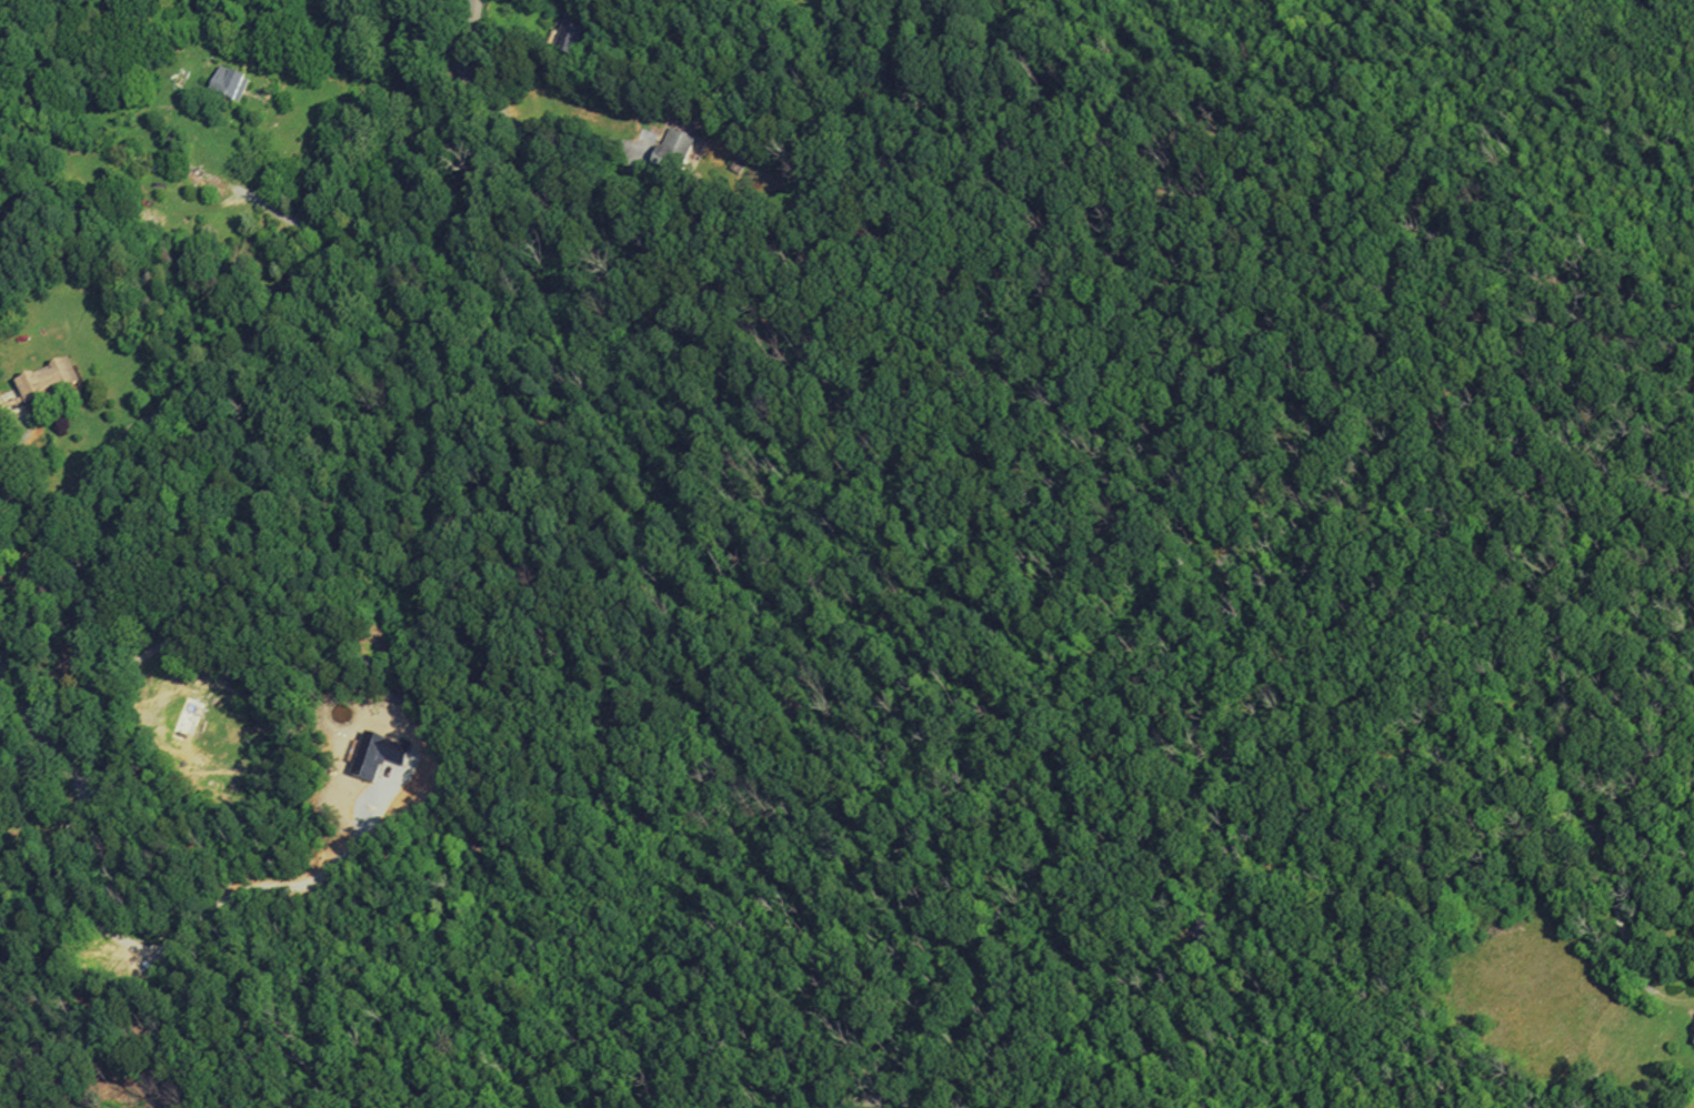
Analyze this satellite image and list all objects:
building: (570, 34)
road: (518, 49)
building: (224, 87)
road: (529, 132)
building: (673, 150)
building: (738, 165)
road: (293, 219)
road: (248, 347)
building: (49, 382)
building: (3, 417)
road: (7, 487)
road: (14, 572)
road: (1114, 644)
building: (189, 721)
building: (379, 759)
road: (211, 913)
building: (1693, 1046)

